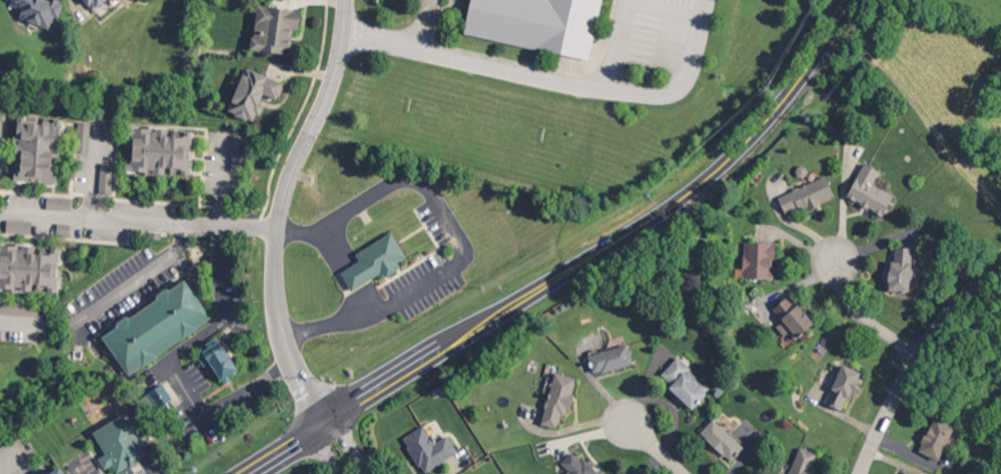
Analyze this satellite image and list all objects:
building: (124, 0)
building: (97, 3)
building: (40, 11)
building: (539, 23)
building: (277, 25)
road: (324, 30)
road: (406, 48)
road: (512, 71)
building: (255, 88)
road: (645, 93)
building: (1, 127)
road: (287, 137)
building: (38, 151)
building: (156, 151)
building: (239, 152)
road: (93, 172)
road: (221, 182)
building: (863, 191)
building: (801, 195)
building: (59, 203)
road: (285, 208)
road: (140, 220)
building: (19, 226)
road: (455, 235)
building: (753, 259)
building: (377, 261)
building: (29, 267)
road: (573, 267)
building: (893, 271)
road: (139, 277)
building: (14, 308)
road: (870, 315)
building: (783, 316)
road: (18, 326)
building: (154, 328)
building: (612, 357)
building: (218, 361)
road: (170, 368)
road: (911, 368)
building: (688, 381)
building: (835, 387)
building: (166, 392)
building: (560, 399)
building: (723, 438)
building: (930, 438)
building: (122, 443)
road: (356, 443)
building: (429, 448)
road: (660, 449)
road: (327, 451)
building: (805, 461)
building: (577, 465)
building: (61, 472)
building: (909, 472)

